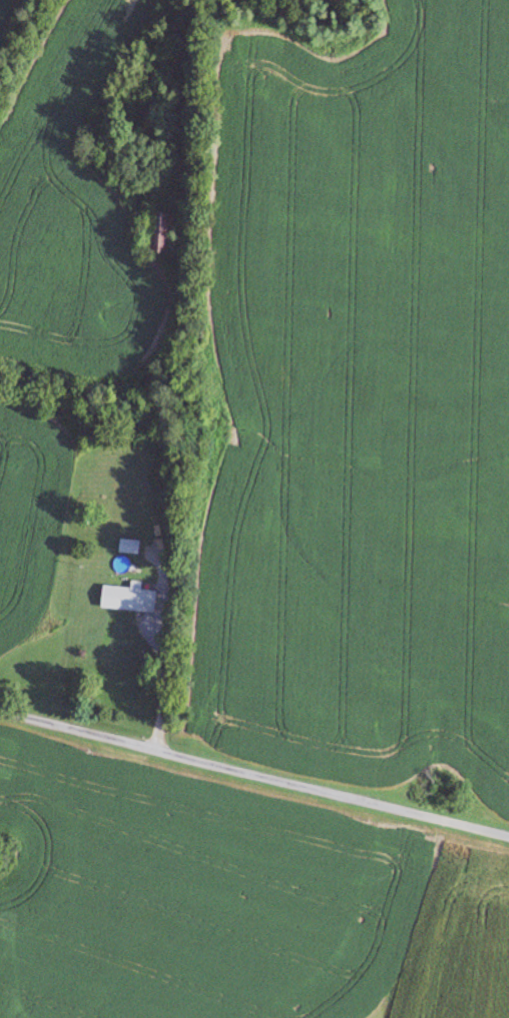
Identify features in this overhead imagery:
building: (114, 597)
road: (254, 774)

